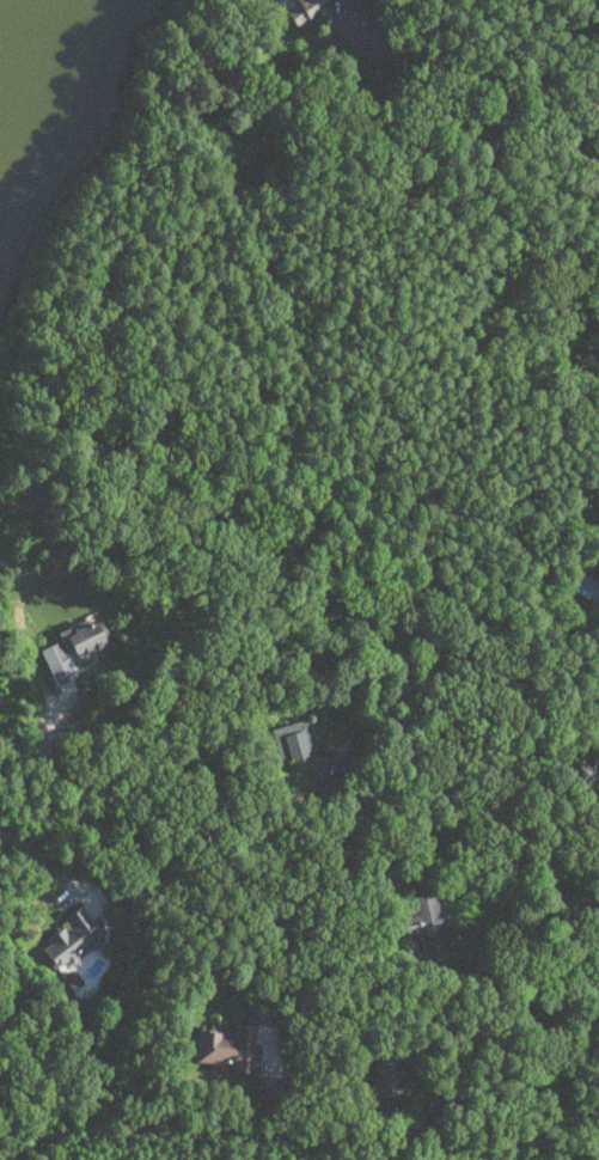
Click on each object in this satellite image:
building: (340, 7)
building: (305, 8)
road: (569, 19)
road: (475, 83)
building: (247, 149)
building: (75, 641)
building: (294, 739)
building: (337, 750)
road: (35, 757)
road: (497, 823)
road: (48, 861)
road: (249, 921)
building: (427, 921)
building: (73, 938)
road: (538, 977)
road: (597, 978)
building: (230, 1046)
building: (387, 1070)
road: (564, 1070)
building: (265, 1086)

